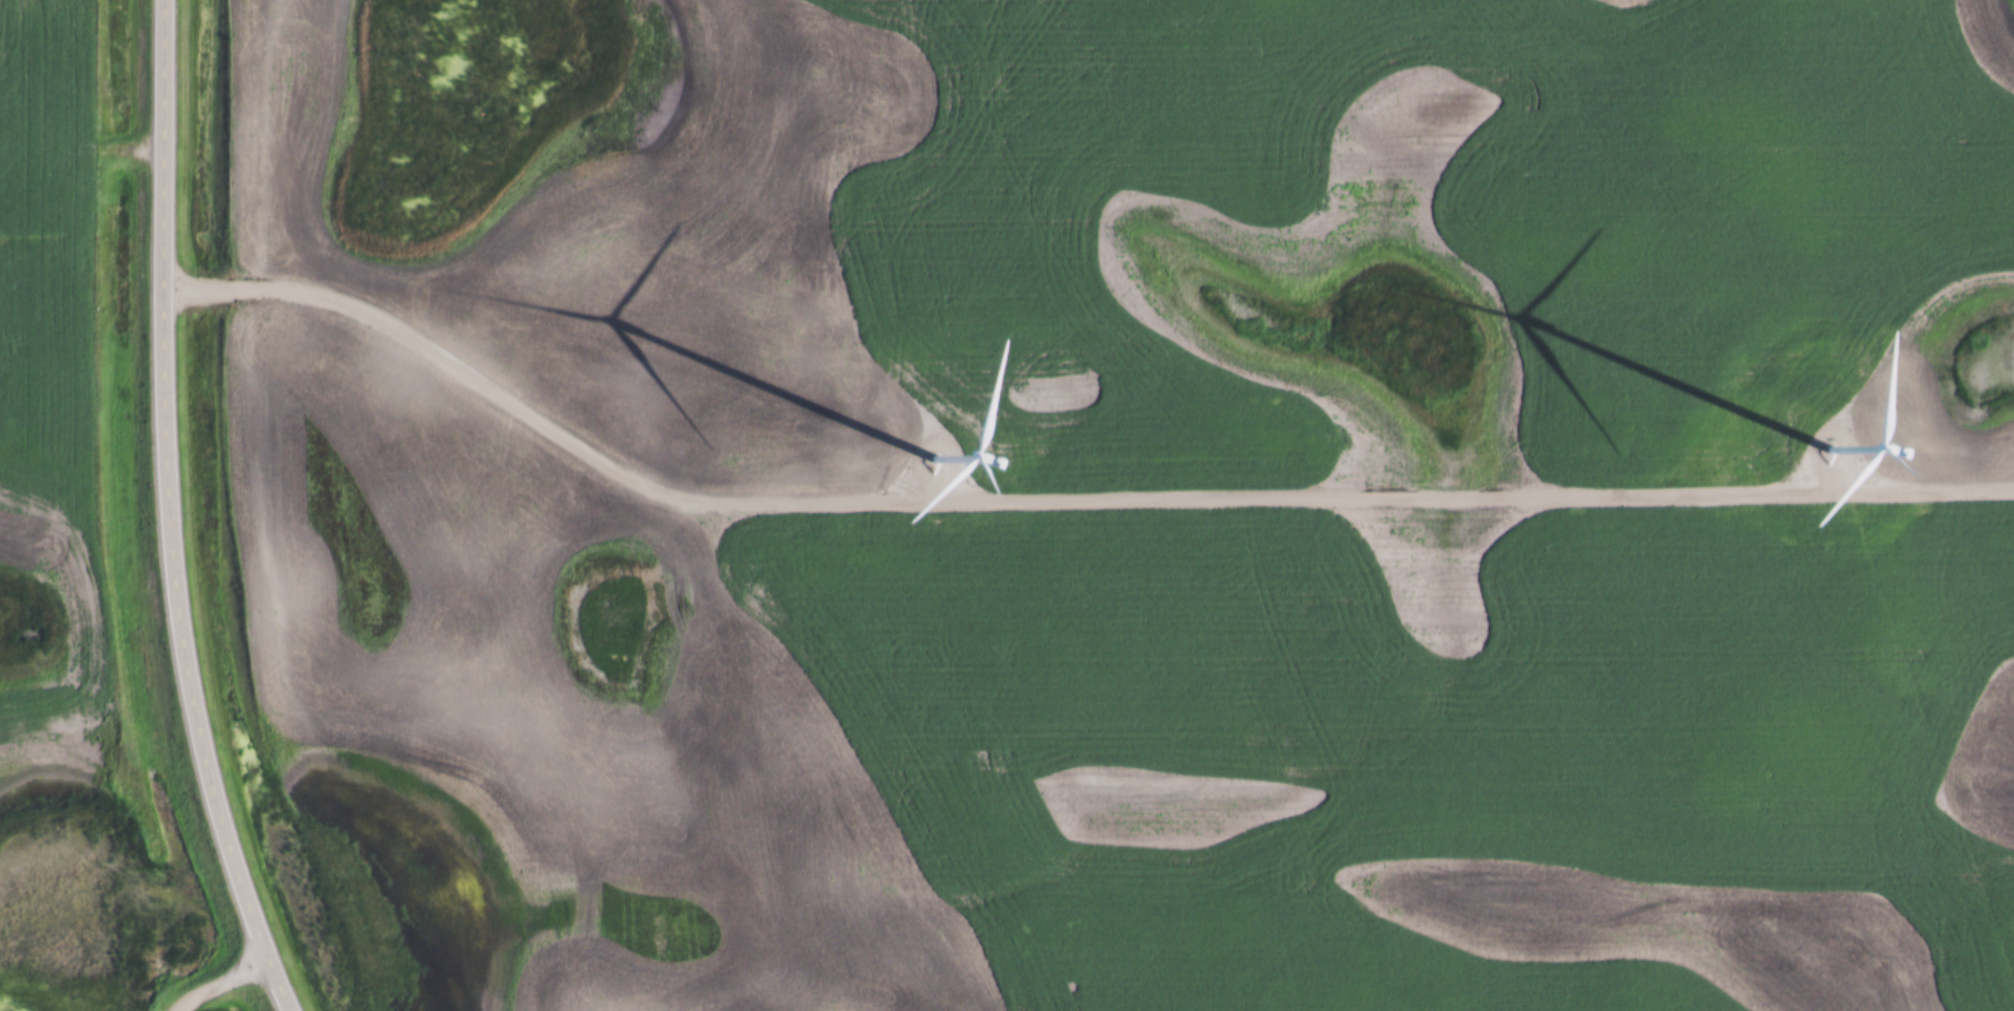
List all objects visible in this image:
wind turbine: (1829, 452)
wind turbine: (925, 459)
road: (168, 514)
road: (223, 982)

